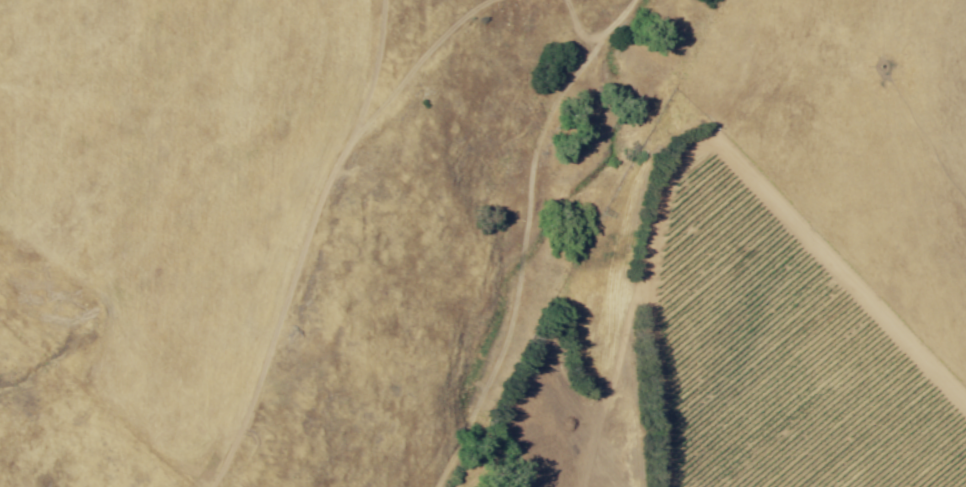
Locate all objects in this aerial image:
road: (713, 140)
crop: (784, 329)

